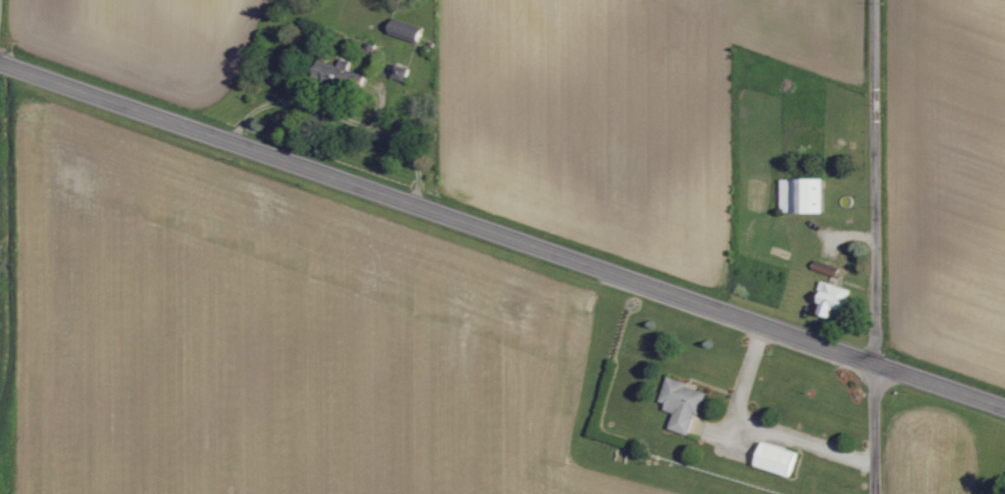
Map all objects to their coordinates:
road: (502, 232)
road: (876, 246)
road: (758, 428)
building: (779, 459)

